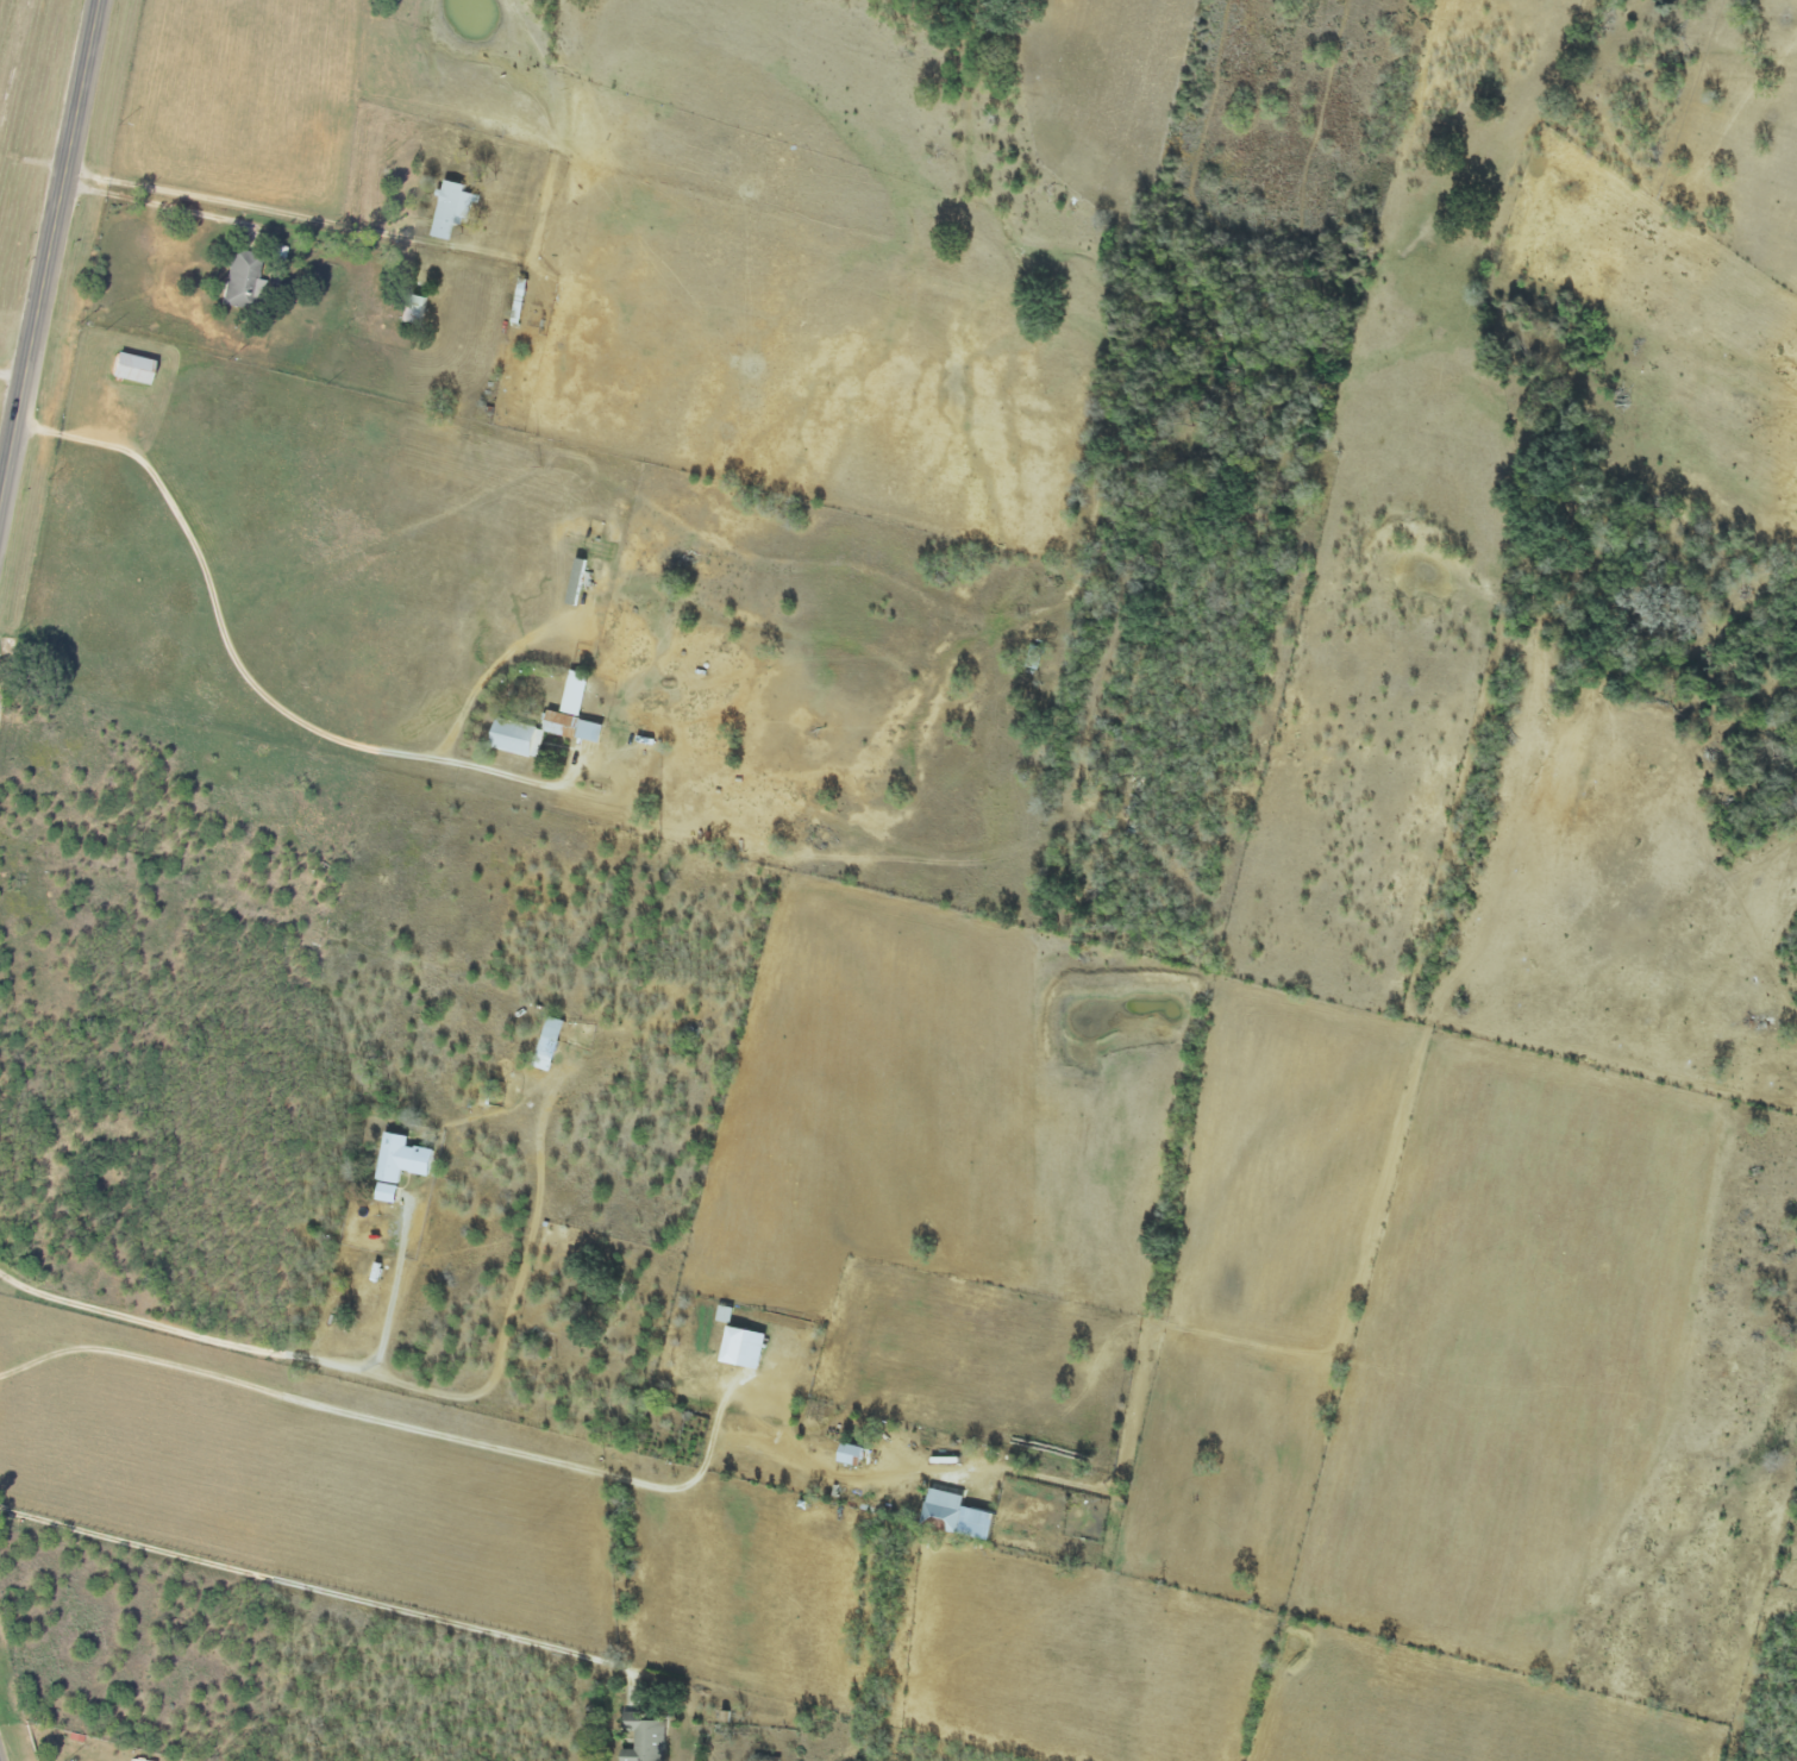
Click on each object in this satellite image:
road: (75, 115)
building: (453, 209)
road: (289, 214)
road: (237, 220)
building: (244, 281)
building: (415, 309)
building: (133, 368)
road: (13, 376)
road: (26, 377)
road: (4, 482)
road: (244, 673)
building: (577, 712)
building: (521, 738)
building: (551, 1044)
building: (403, 1159)
building: (389, 1193)
road: (518, 1302)
building: (728, 1315)
building: (749, 1348)
road: (265, 1350)
road: (390, 1423)
building: (853, 1454)
building: (948, 1508)
road: (315, 1590)
road: (0, 1760)

